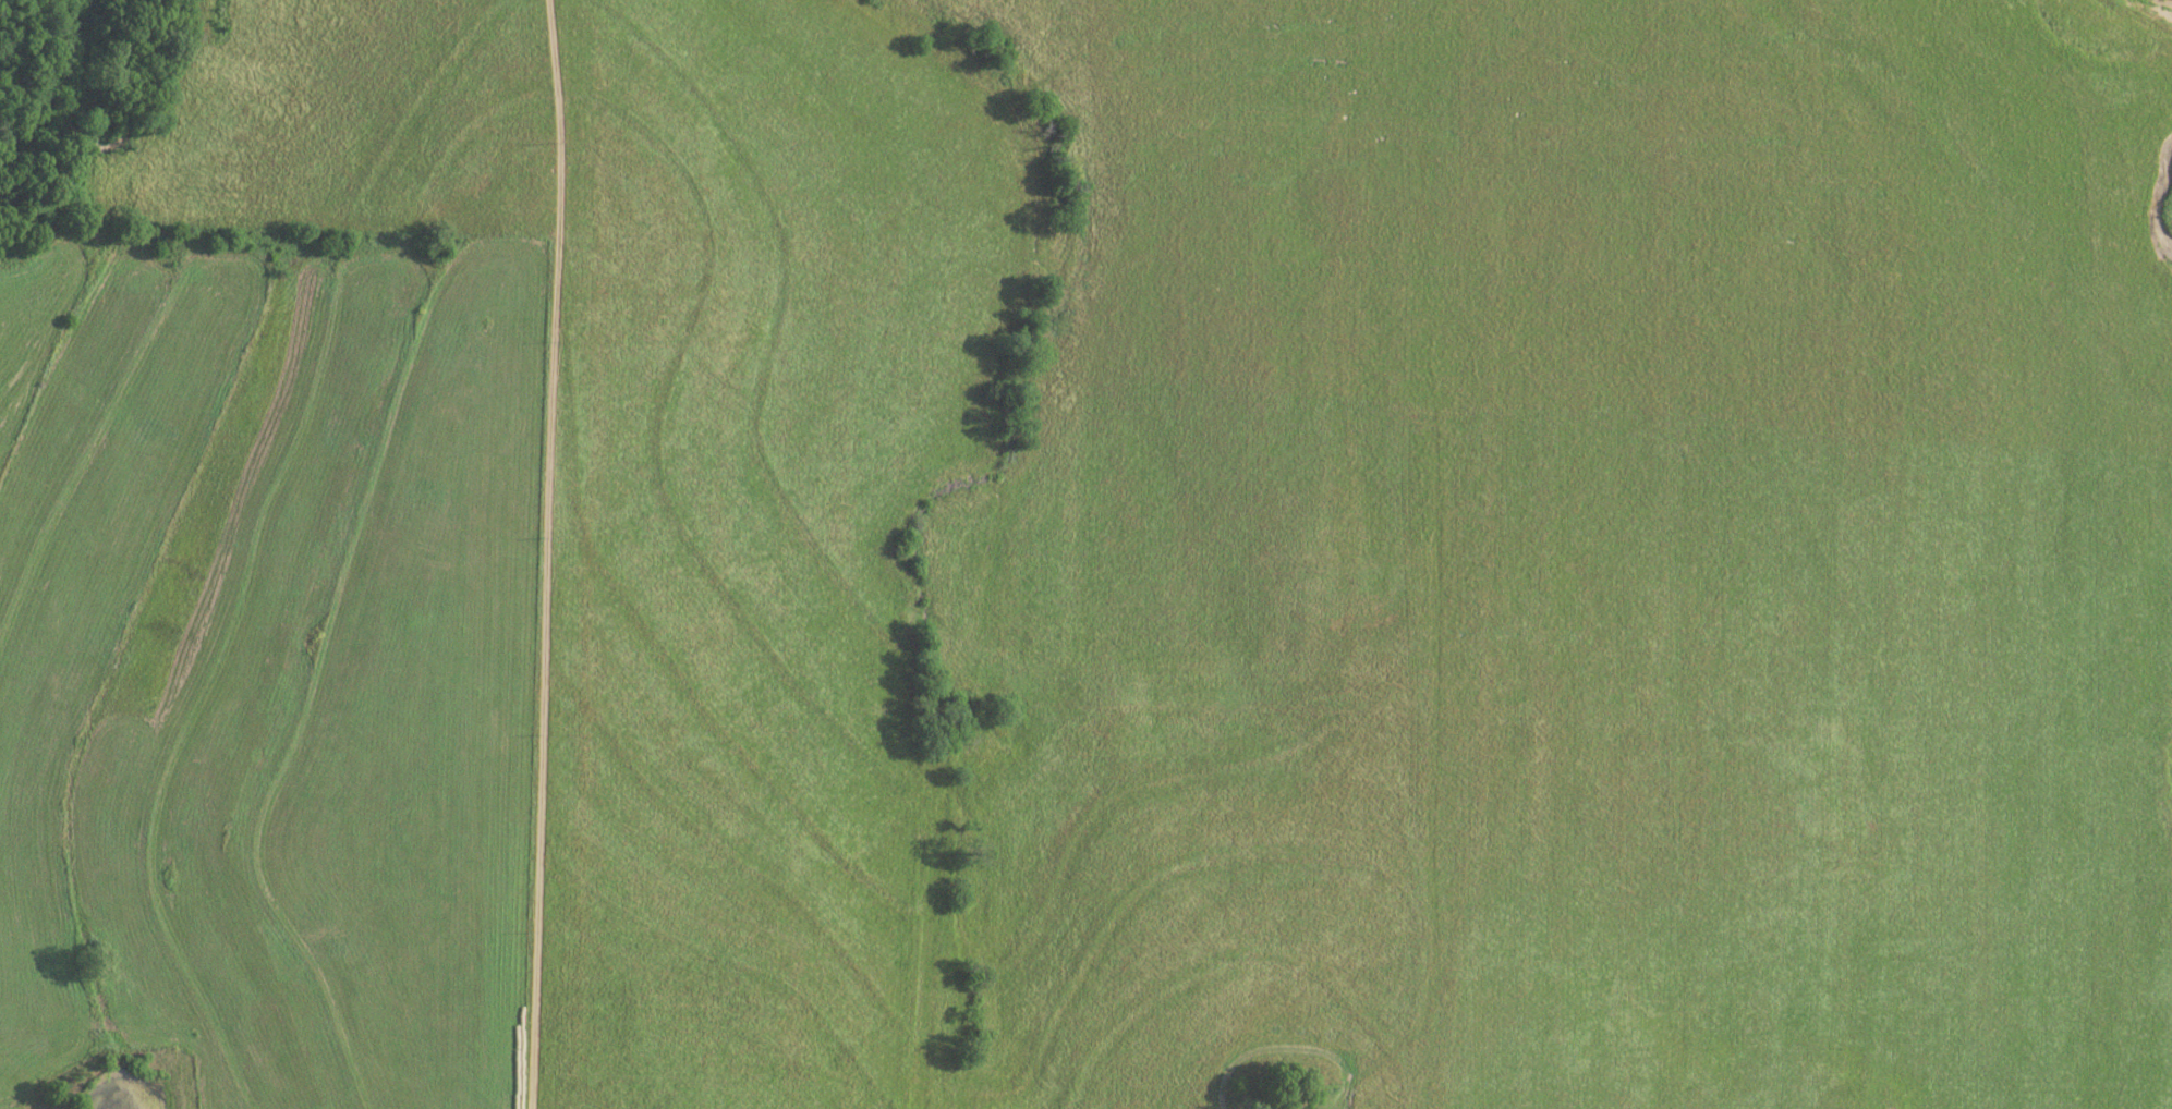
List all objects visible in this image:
road: (550, 553)

